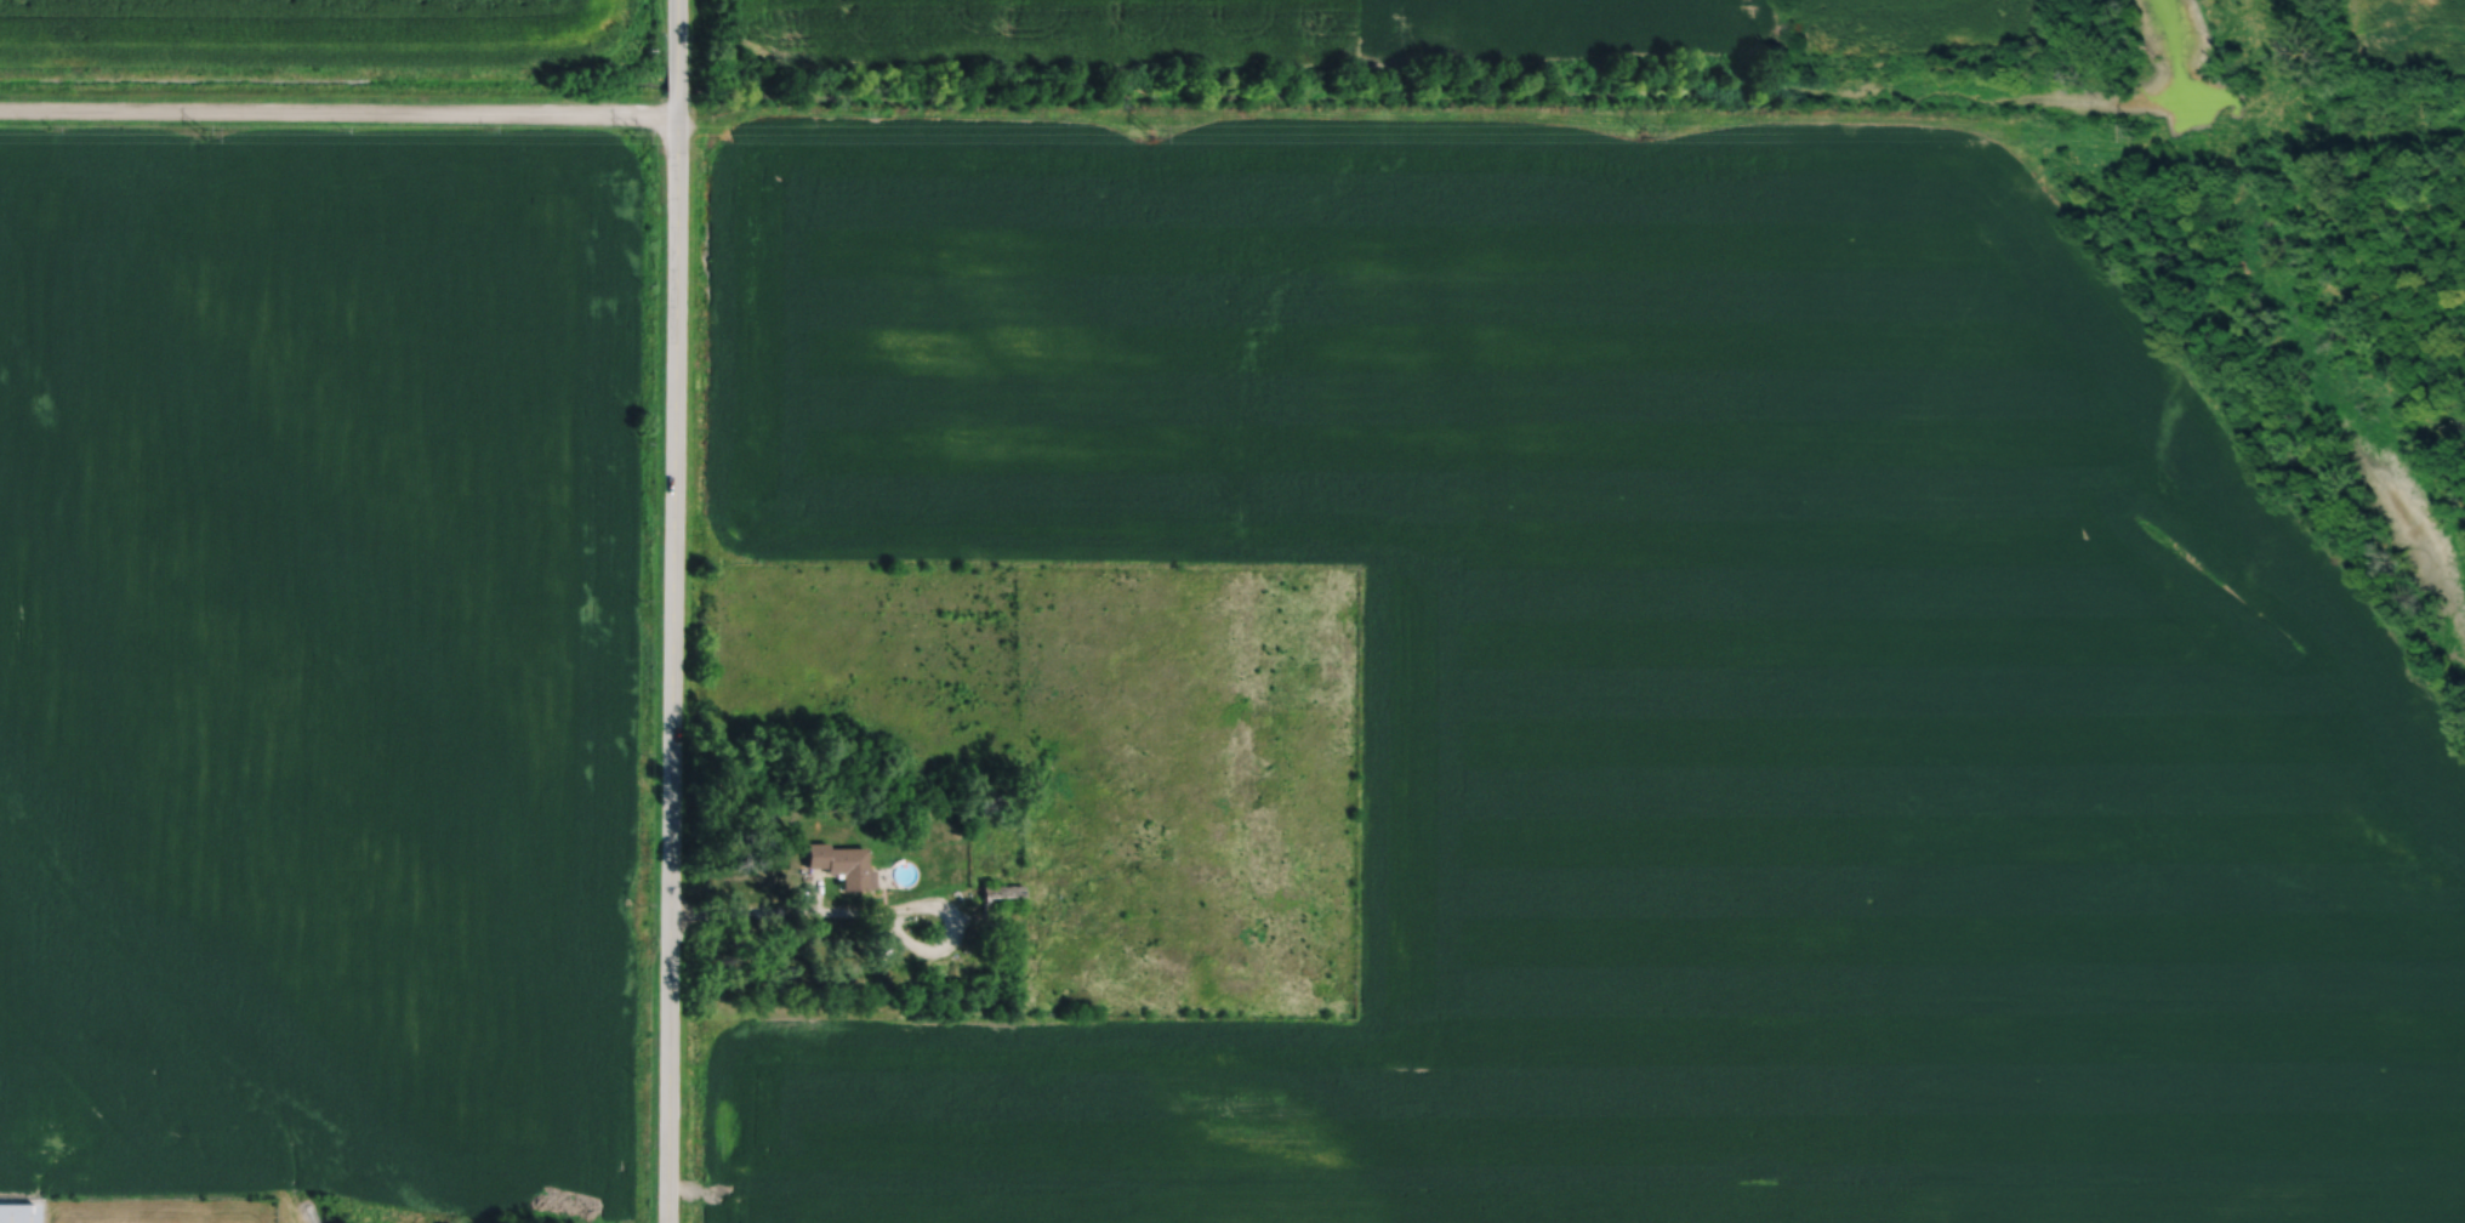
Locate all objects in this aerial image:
road: (676, 33)
road: (677, 85)
road: (338, 109)
power tower: (1644, 131)
power tower: (2137, 131)
power tower: (203, 132)
power tower: (1152, 135)
power tower: (634, 138)
road: (671, 662)
building: (841, 864)
building: (1003, 895)
road: (872, 910)
building: (17, 1215)

